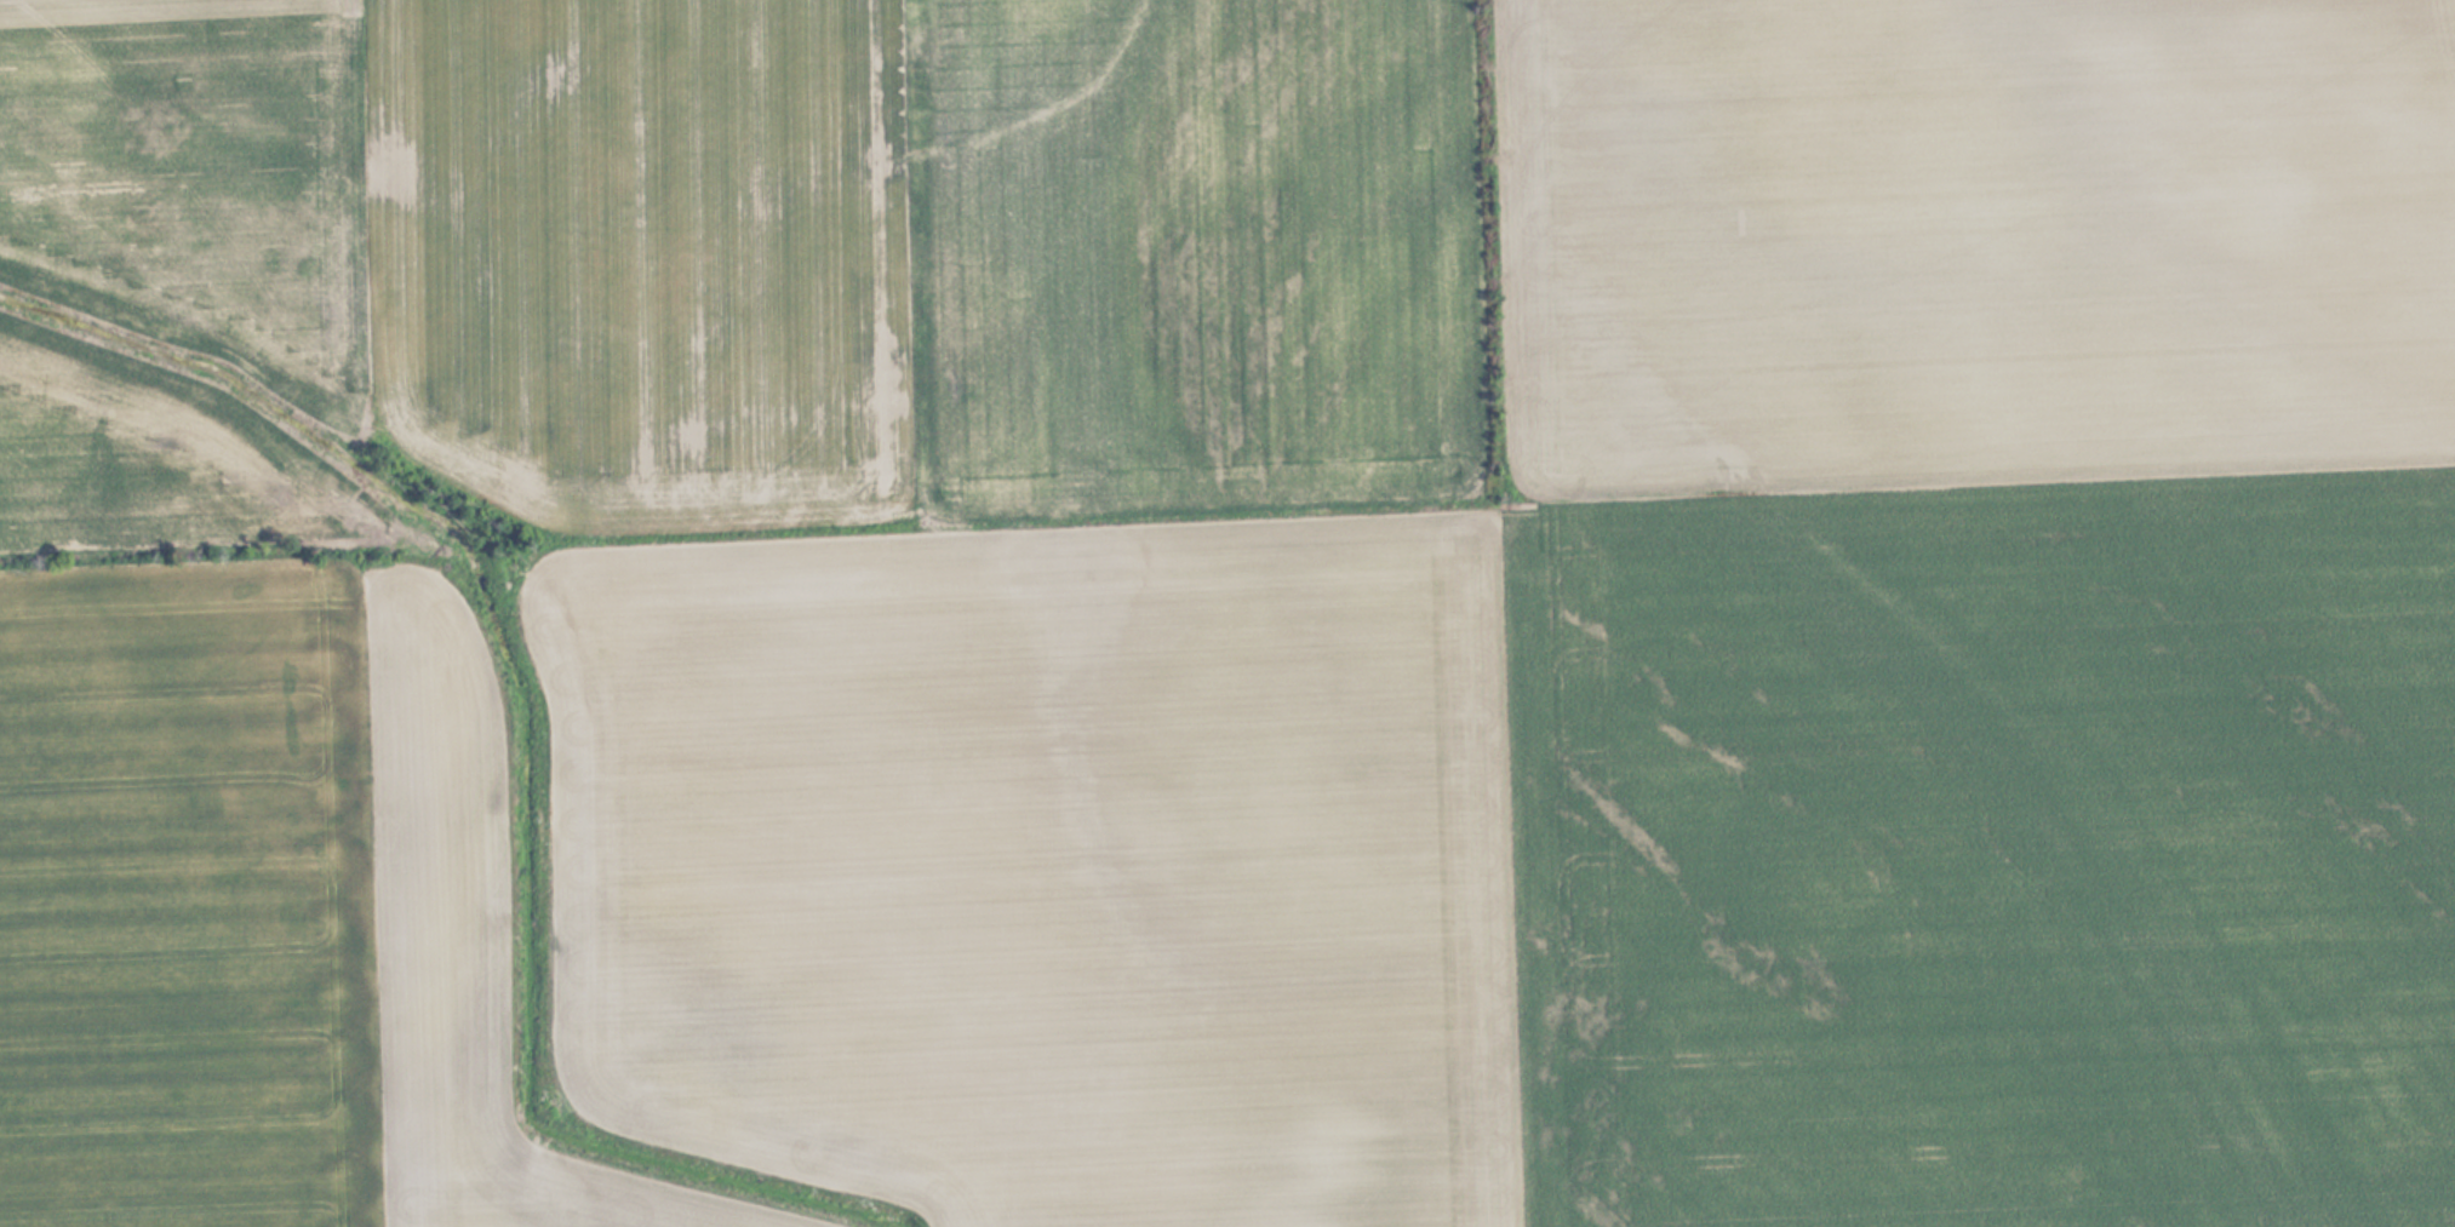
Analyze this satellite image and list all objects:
crop: (1227, 613)

